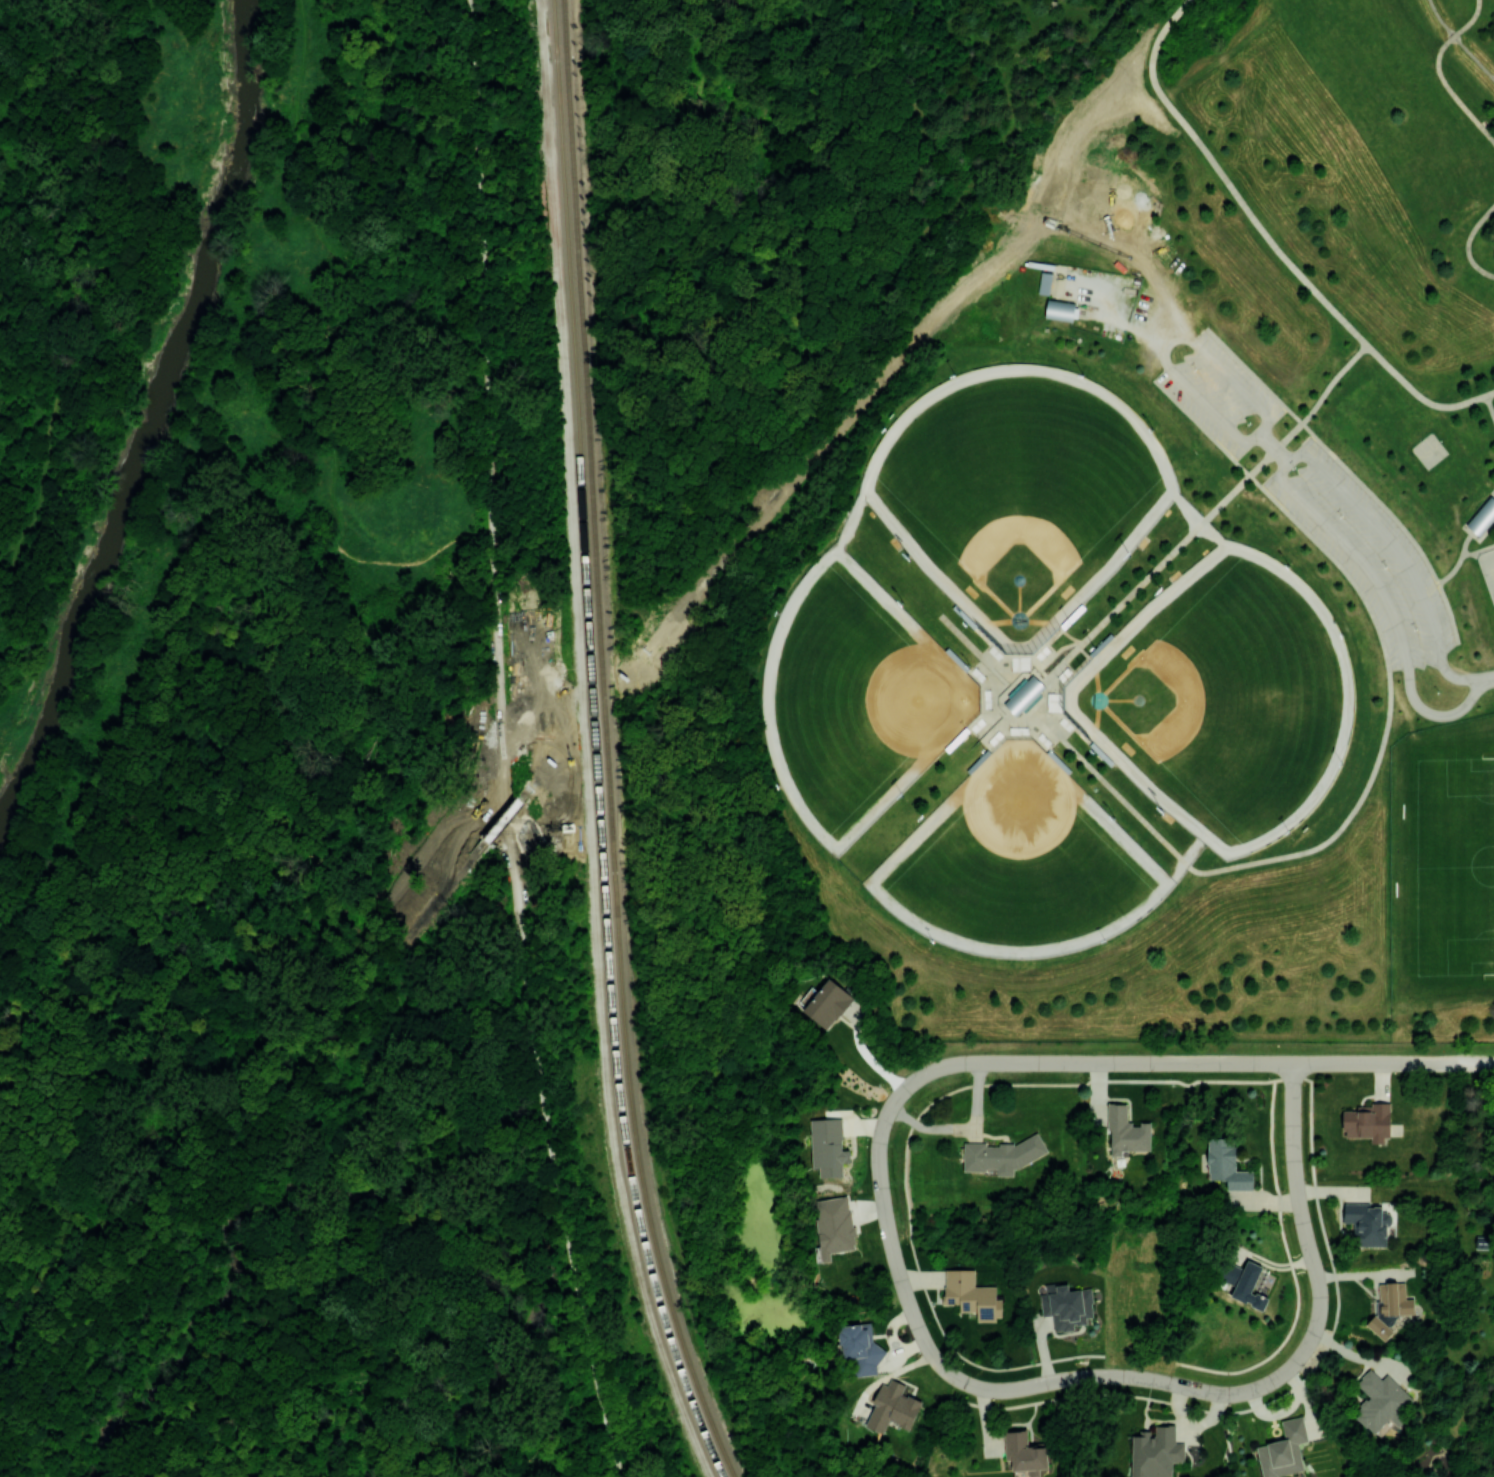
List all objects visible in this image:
road: (1175, 15)
road: (1440, 72)
road: (1142, 103)
road: (95, 212)
road: (1470, 246)
road: (1283, 259)
road: (976, 273)
building: (1060, 310)
road: (1167, 341)
river: (148, 408)
road: (1272, 445)
park: (1428, 450)
road: (43, 478)
park: (1019, 494)
building: (1489, 506)
building: (1480, 521)
railway: (581, 525)
road: (1401, 557)
park: (1488, 567)
road: (709, 573)
road: (10, 576)
park: (1133, 577)
road: (1387, 605)
road: (237, 663)
road: (1490, 676)
building: (1024, 695)
park: (856, 699)
park: (1225, 701)
road: (589, 715)
park: (1044, 725)
road: (502, 743)
railway: (605, 746)
park: (380, 777)
road: (526, 794)
road: (497, 828)
road: (456, 838)
park: (1020, 865)
park: (1455, 865)
road: (440, 895)
building: (827, 1003)
road: (1206, 1064)
road: (1473, 1064)
building: (1368, 1122)
building: (1126, 1130)
building: (828, 1146)
building: (1002, 1155)
building: (1226, 1164)
road: (880, 1190)
building: (1368, 1223)
building: (834, 1227)
railway: (647, 1268)
building: (1246, 1282)
building: (971, 1294)
road: (330, 1295)
building: (1066, 1305)
building: (1390, 1307)
building: (860, 1347)
road: (1263, 1387)
building: (1381, 1401)
building: (892, 1406)
road: (38, 1416)
road: (106, 1439)
road: (44, 1444)
building: (1284, 1450)
building: (1025, 1452)
building: (1155, 1452)
road: (135, 1460)

